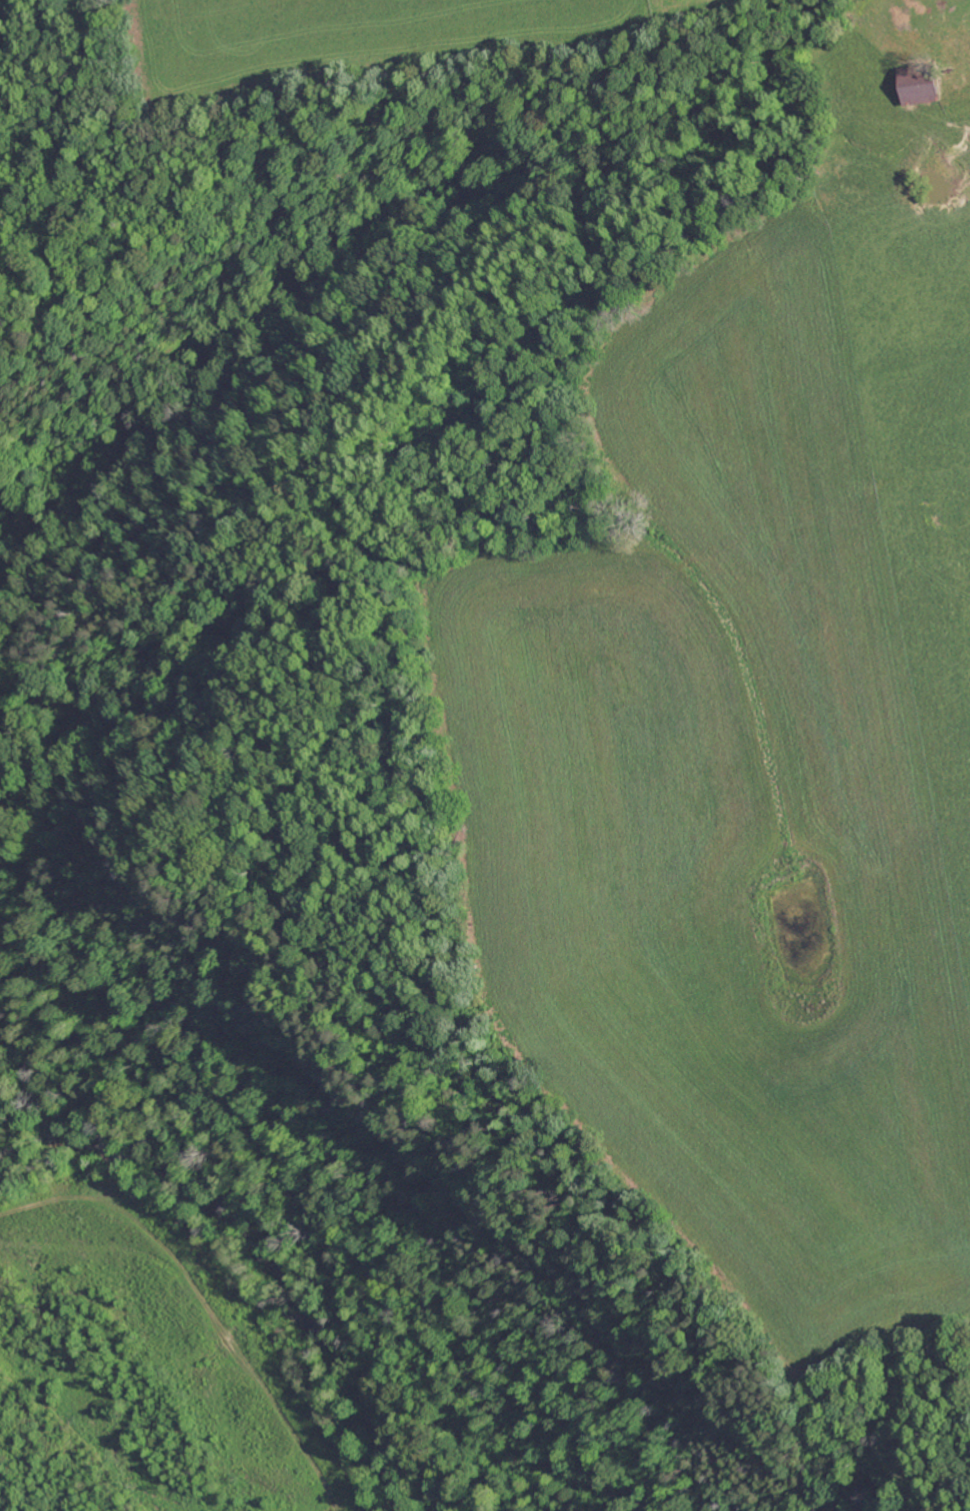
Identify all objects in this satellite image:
building: (924, 87)

